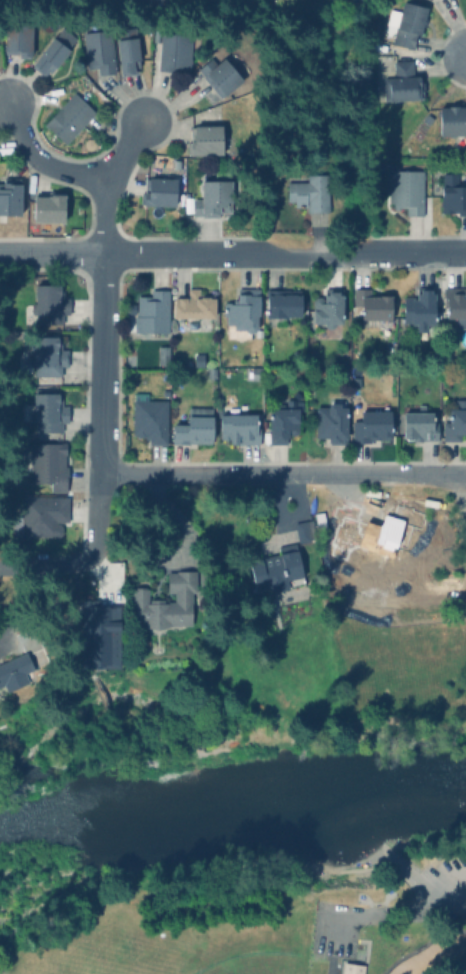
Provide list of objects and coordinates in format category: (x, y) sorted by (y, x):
building: (404, 22)
building: (13, 34)
building: (125, 48)
building: (96, 49)
building: (172, 51)
building: (48, 54)
building: (216, 74)
building: (400, 82)
building: (66, 116)
building: (451, 117)
building: (204, 137)
road: (125, 151)
road: (40, 161)
building: (405, 188)
building: (157, 189)
building: (308, 190)
building: (451, 192)
building: (10, 195)
building: (209, 197)
building: (48, 208)
road: (104, 217)
road: (232, 253)
building: (191, 302)
building: (278, 302)
building: (370, 302)
building: (454, 302)
building: (50, 303)
building: (325, 305)
building: (417, 307)
building: (148, 310)
building: (241, 310)
building: (190, 322)
building: (161, 353)
building: (48, 356)
building: (459, 368)
building: (256, 371)
road: (101, 409)
building: (50, 411)
building: (148, 417)
building: (454, 419)
building: (278, 420)
building: (329, 421)
building: (416, 421)
building: (371, 423)
building: (191, 425)
building: (238, 425)
building: (45, 465)
road: (283, 474)
building: (45, 511)
building: (301, 525)
building: (378, 538)
building: (274, 565)
road: (45, 566)
building: (164, 600)
building: (98, 635)
building: (15, 671)
river: (233, 812)
road: (446, 904)
park: (238, 910)
road: (380, 915)
park: (259, 965)
building: (351, 969)

